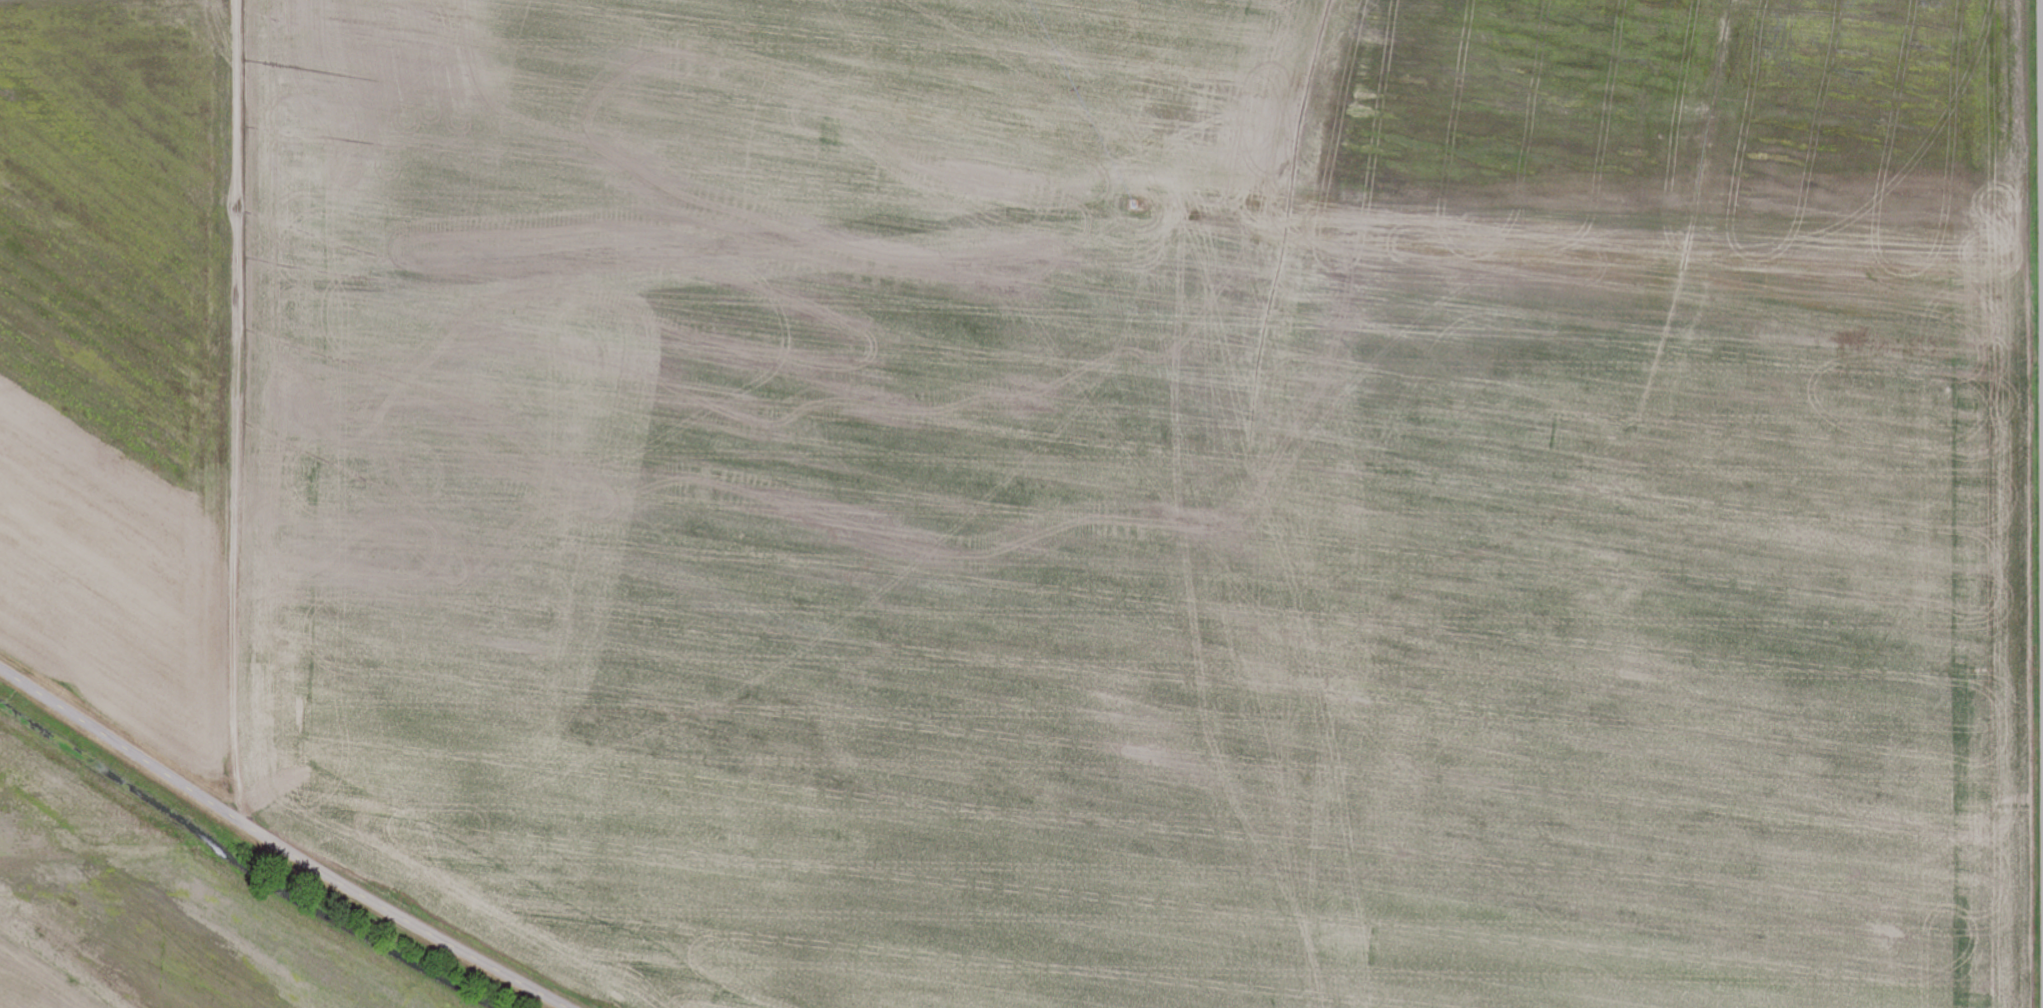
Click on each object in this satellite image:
road: (2042, 101)
road: (279, 840)

